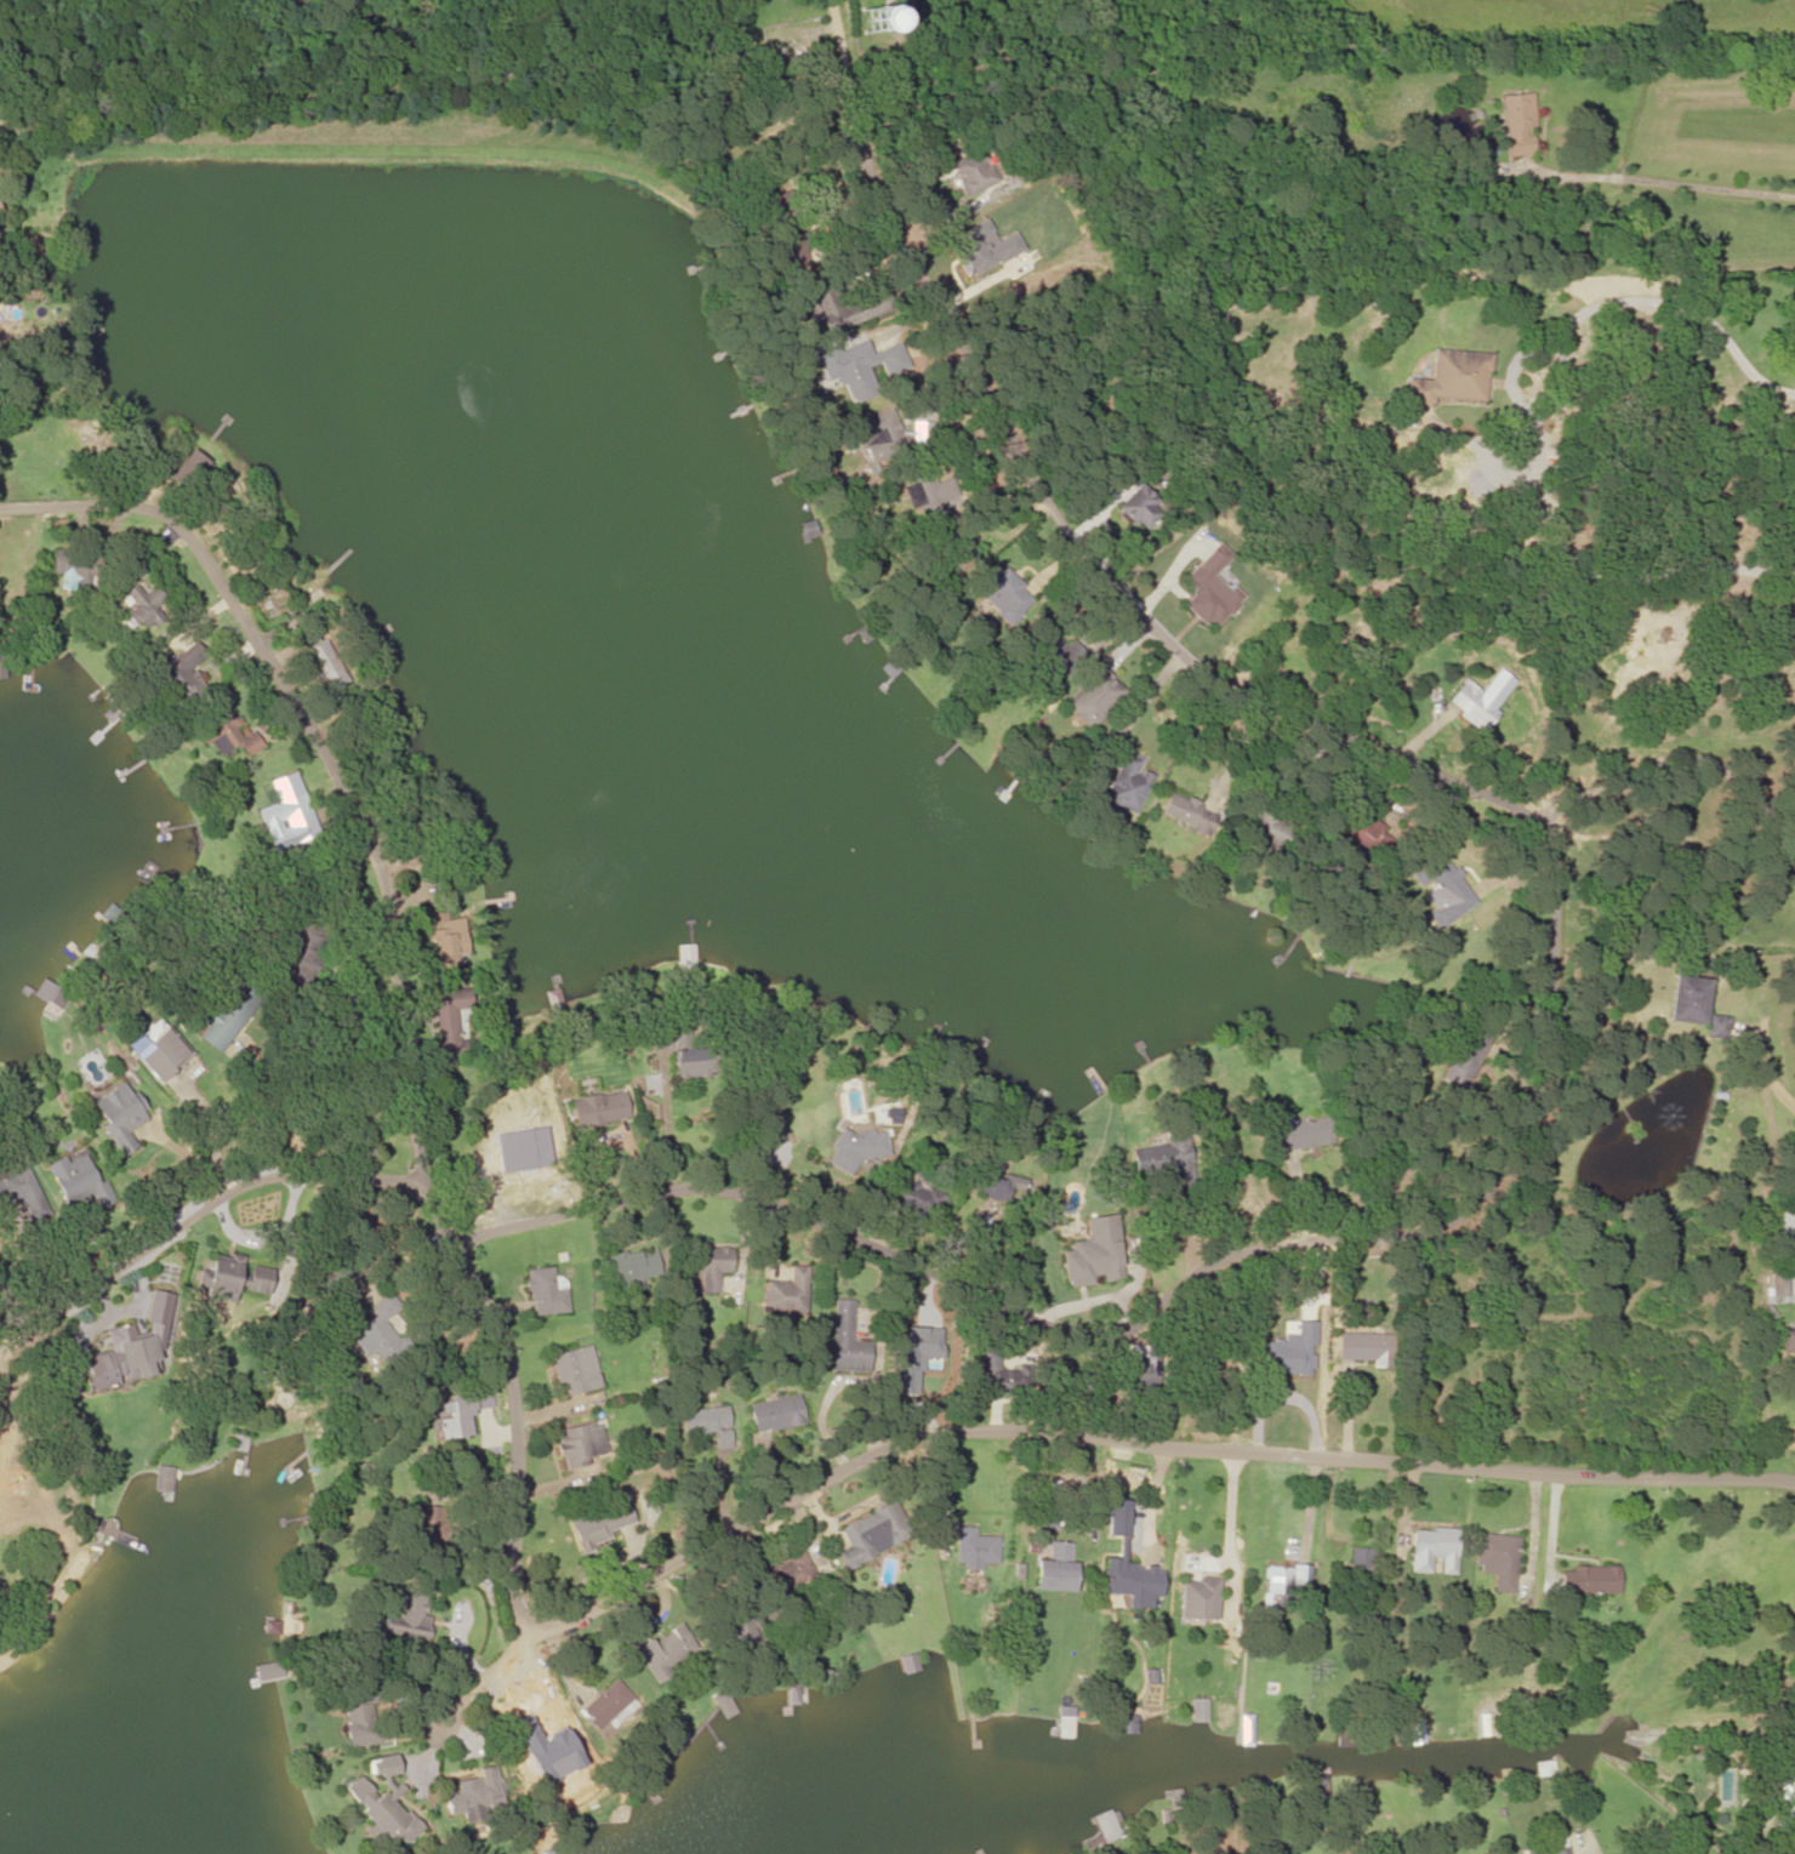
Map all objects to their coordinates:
building: (1521, 125)
building: (973, 173)
building: (791, 233)
building: (843, 308)
road: (1685, 310)
building: (866, 367)
building: (1452, 378)
road: (1526, 409)
building: (189, 466)
building: (930, 496)
building: (1140, 508)
building: (808, 530)
building: (70, 570)
building: (1007, 594)
building: (142, 609)
building: (1058, 654)
building: (1, 666)
building: (323, 668)
building: (181, 674)
building: (1472, 708)
building: (226, 738)
building: (1127, 786)
road: (269, 798)
building: (290, 808)
building: (1189, 814)
building: (1263, 832)
building: (1444, 883)
building: (444, 941)
building: (301, 953)
building: (1687, 999)
building: (226, 1017)
building: (452, 1021)
building: (656, 1040)
building: (161, 1052)
building: (689, 1056)
building: (1463, 1057)
road: (1542, 1082)
building: (599, 1108)
building: (120, 1116)
building: (1303, 1133)
building: (1793, 1143)
building: (856, 1147)
building: (1163, 1160)
building: (78, 1181)
building: (998, 1187)
building: (22, 1193)
building: (912, 1198)
road: (194, 1219)
building: (711, 1260)
building: (631, 1268)
building: (232, 1277)
building: (546, 1293)
building: (786, 1293)
building: (847, 1341)
building: (1787, 1342)
building: (1362, 1347)
building: (121, 1353)
building: (1289, 1356)
building: (1135, 1368)
building: (574, 1371)
building: (998, 1376)
road: (391, 1409)
road: (507, 1410)
building: (774, 1413)
road: (1100, 1441)
building: (238, 1443)
building: (580, 1445)
building: (163, 1479)
building: (11, 1482)
building: (417, 1523)
building: (594, 1528)
building: (872, 1534)
building: (106, 1539)
building: (975, 1550)
building: (1432, 1551)
building: (1497, 1561)
building: (1361, 1568)
building: (1056, 1569)
building: (788, 1574)
building: (1589, 1581)
building: (1132, 1582)
building: (1277, 1587)
building: (1197, 1599)
building: (406, 1618)
building: (740, 1622)
building: (49, 1645)
building: (667, 1653)
building: (908, 1664)
building: (262, 1675)
building: (792, 1694)
building: (610, 1708)
building: (1199, 1711)
road: (456, 1715)
building: (1127, 1725)
building: (536, 1736)
building: (1584, 1779)
building: (466, 1797)
building: (1107, 1826)
building: (1557, 1844)

